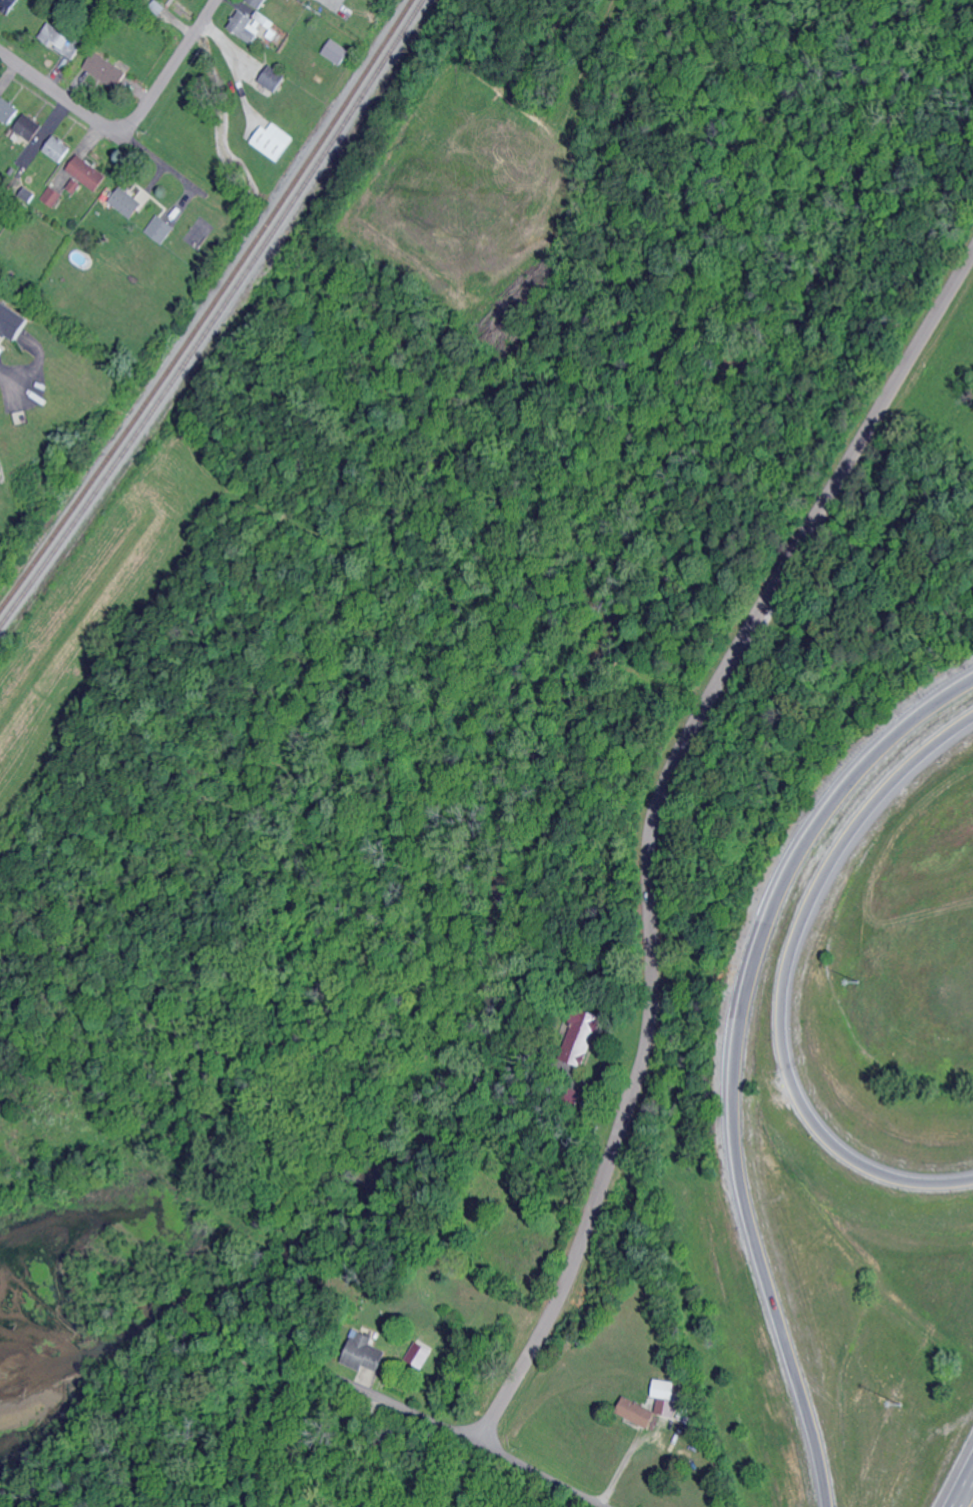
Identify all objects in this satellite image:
building: (259, 2)
building: (10, 5)
building: (243, 25)
road: (470, 38)
building: (63, 40)
building: (338, 51)
building: (107, 70)
road: (171, 70)
building: (273, 77)
building: (9, 109)
road: (99, 122)
building: (34, 130)
building: (275, 140)
building: (58, 148)
building: (89, 172)
road: (954, 182)
building: (75, 185)
building: (53, 195)
building: (129, 202)
building: (161, 228)
road: (873, 263)
railway: (209, 307)
railway: (216, 315)
building: (15, 319)
road: (312, 343)
road: (10, 377)
road: (707, 468)
road: (400, 680)
road: (594, 704)
road: (656, 832)
road: (787, 982)
road: (737, 1057)
building: (365, 1352)
building: (417, 1354)
road: (338, 1381)
building: (669, 1396)
building: (639, 1411)
road: (963, 1489)

